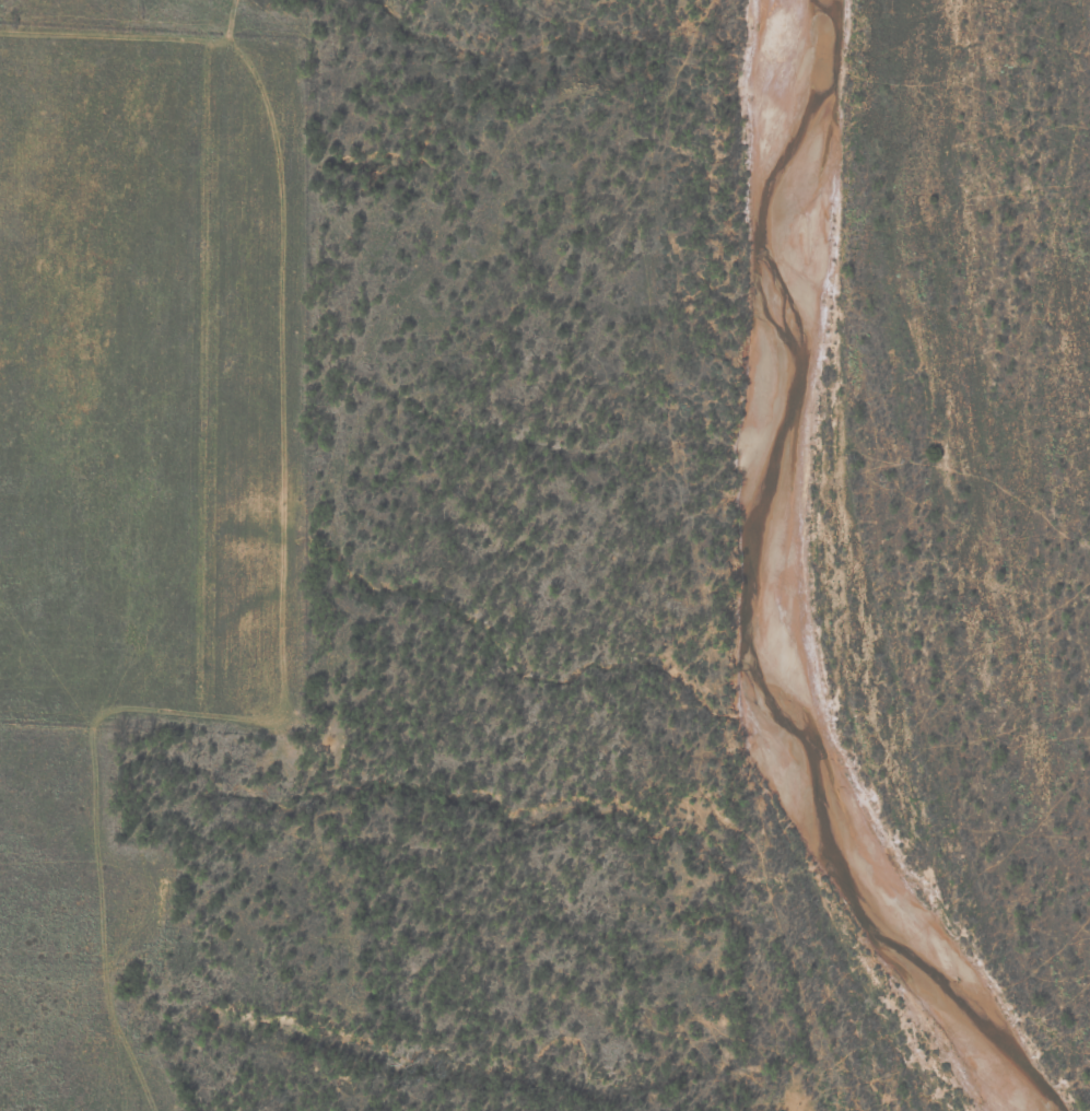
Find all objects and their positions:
river: (784, 585)

